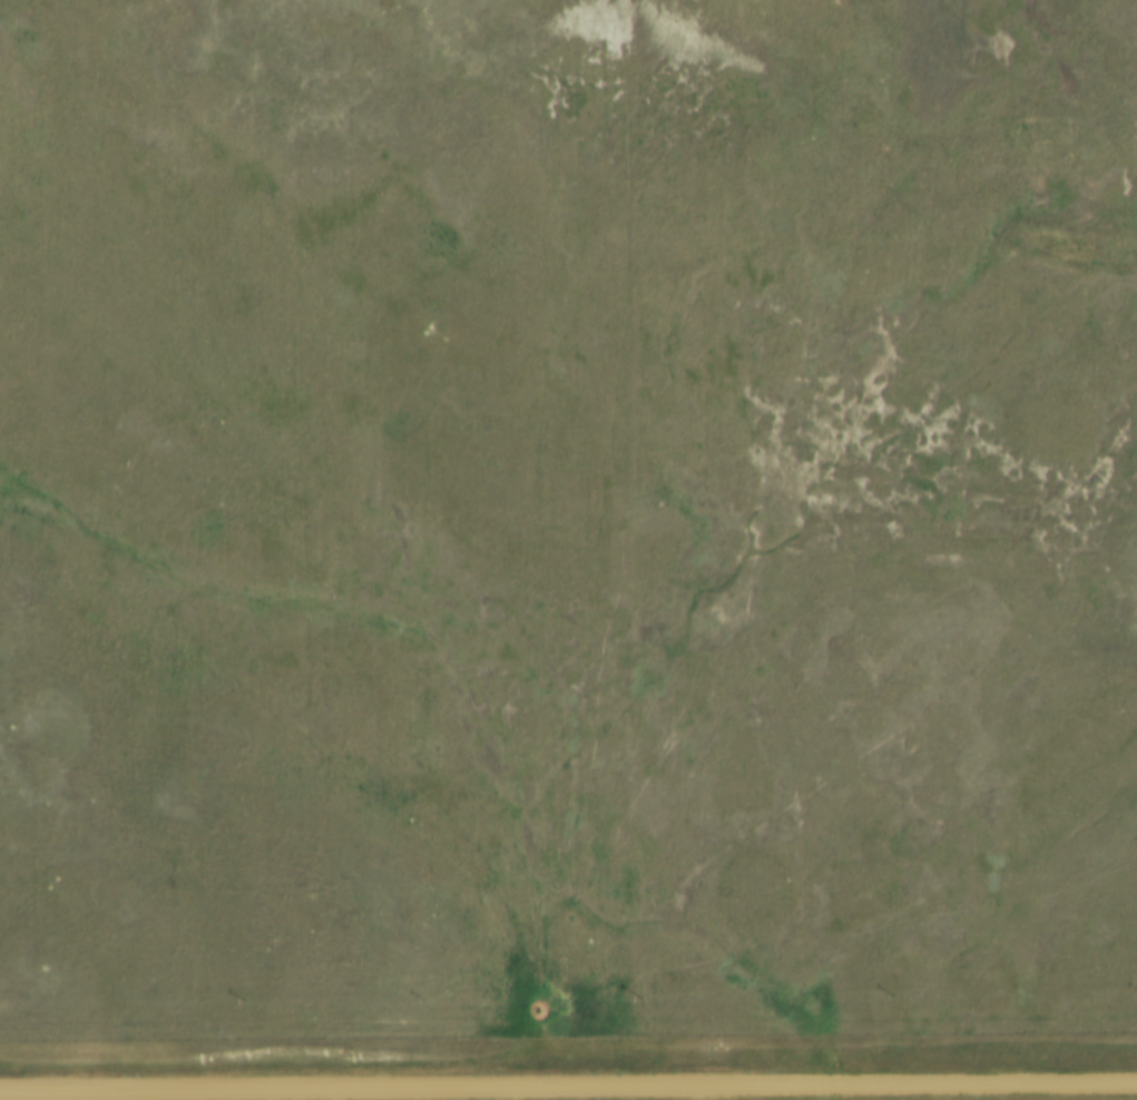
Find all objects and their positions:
road: (569, 1088)

